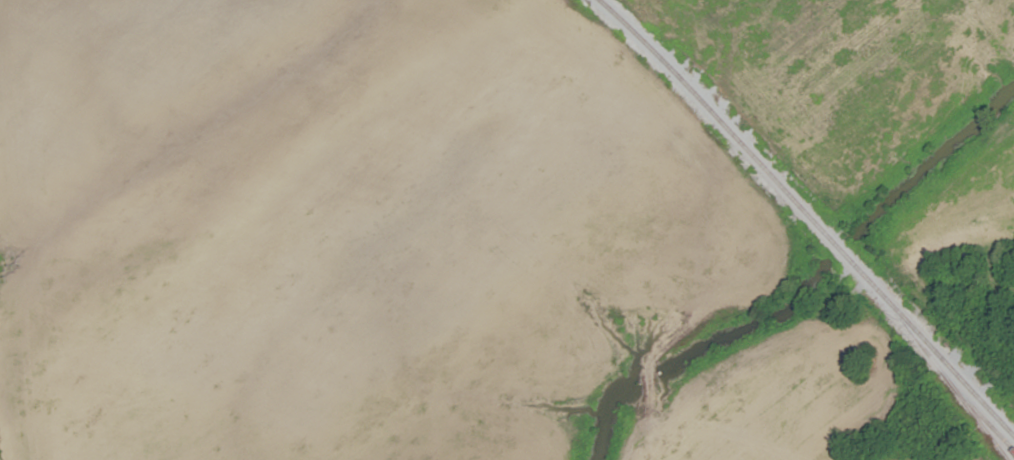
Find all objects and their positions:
railway: (807, 216)
railway: (944, 375)
railway: (979, 424)

